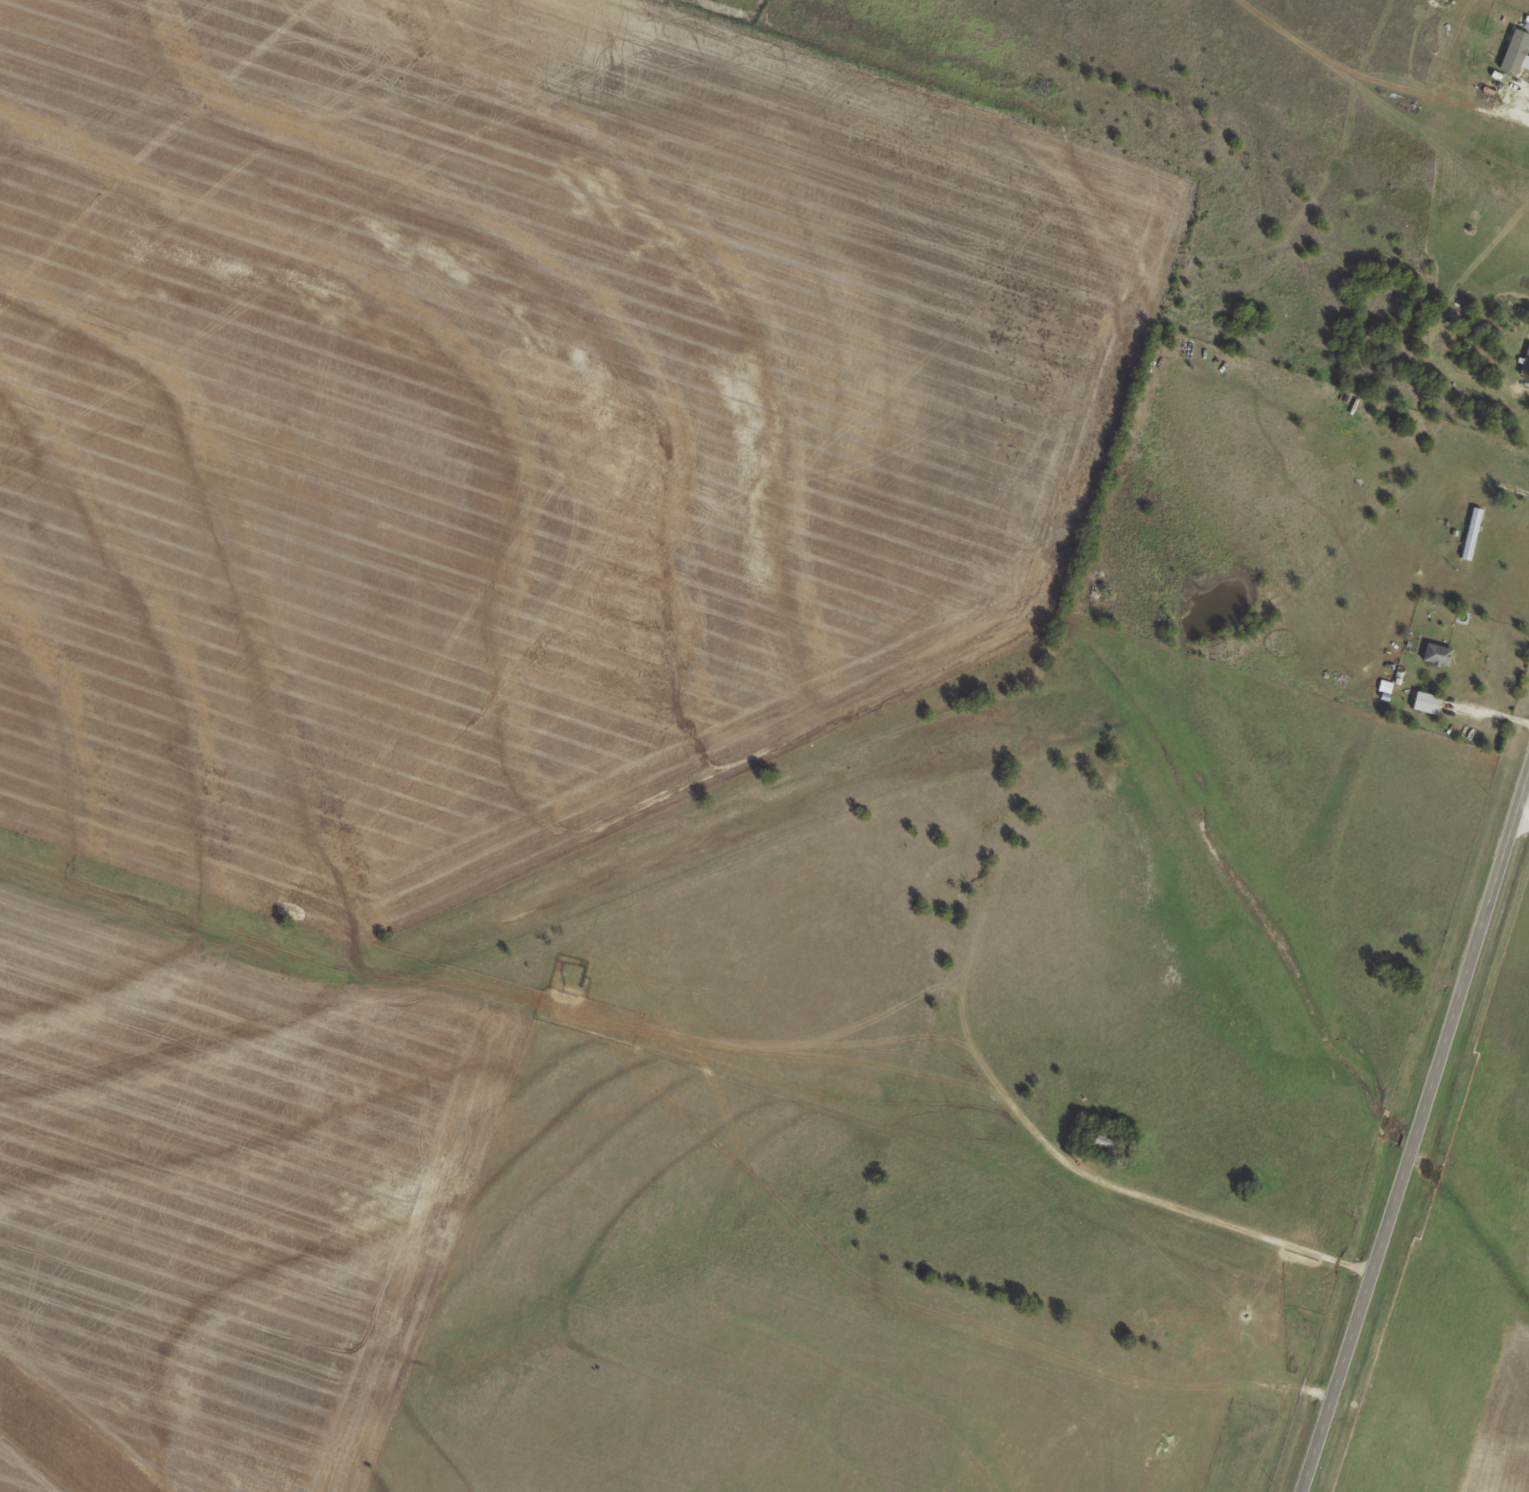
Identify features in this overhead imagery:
building: (1525, 364)
building: (1470, 533)
building: (1436, 655)
building: (1425, 702)
road: (1520, 822)
road: (1413, 1128)
building: (1100, 1142)
road: (1051, 1202)

